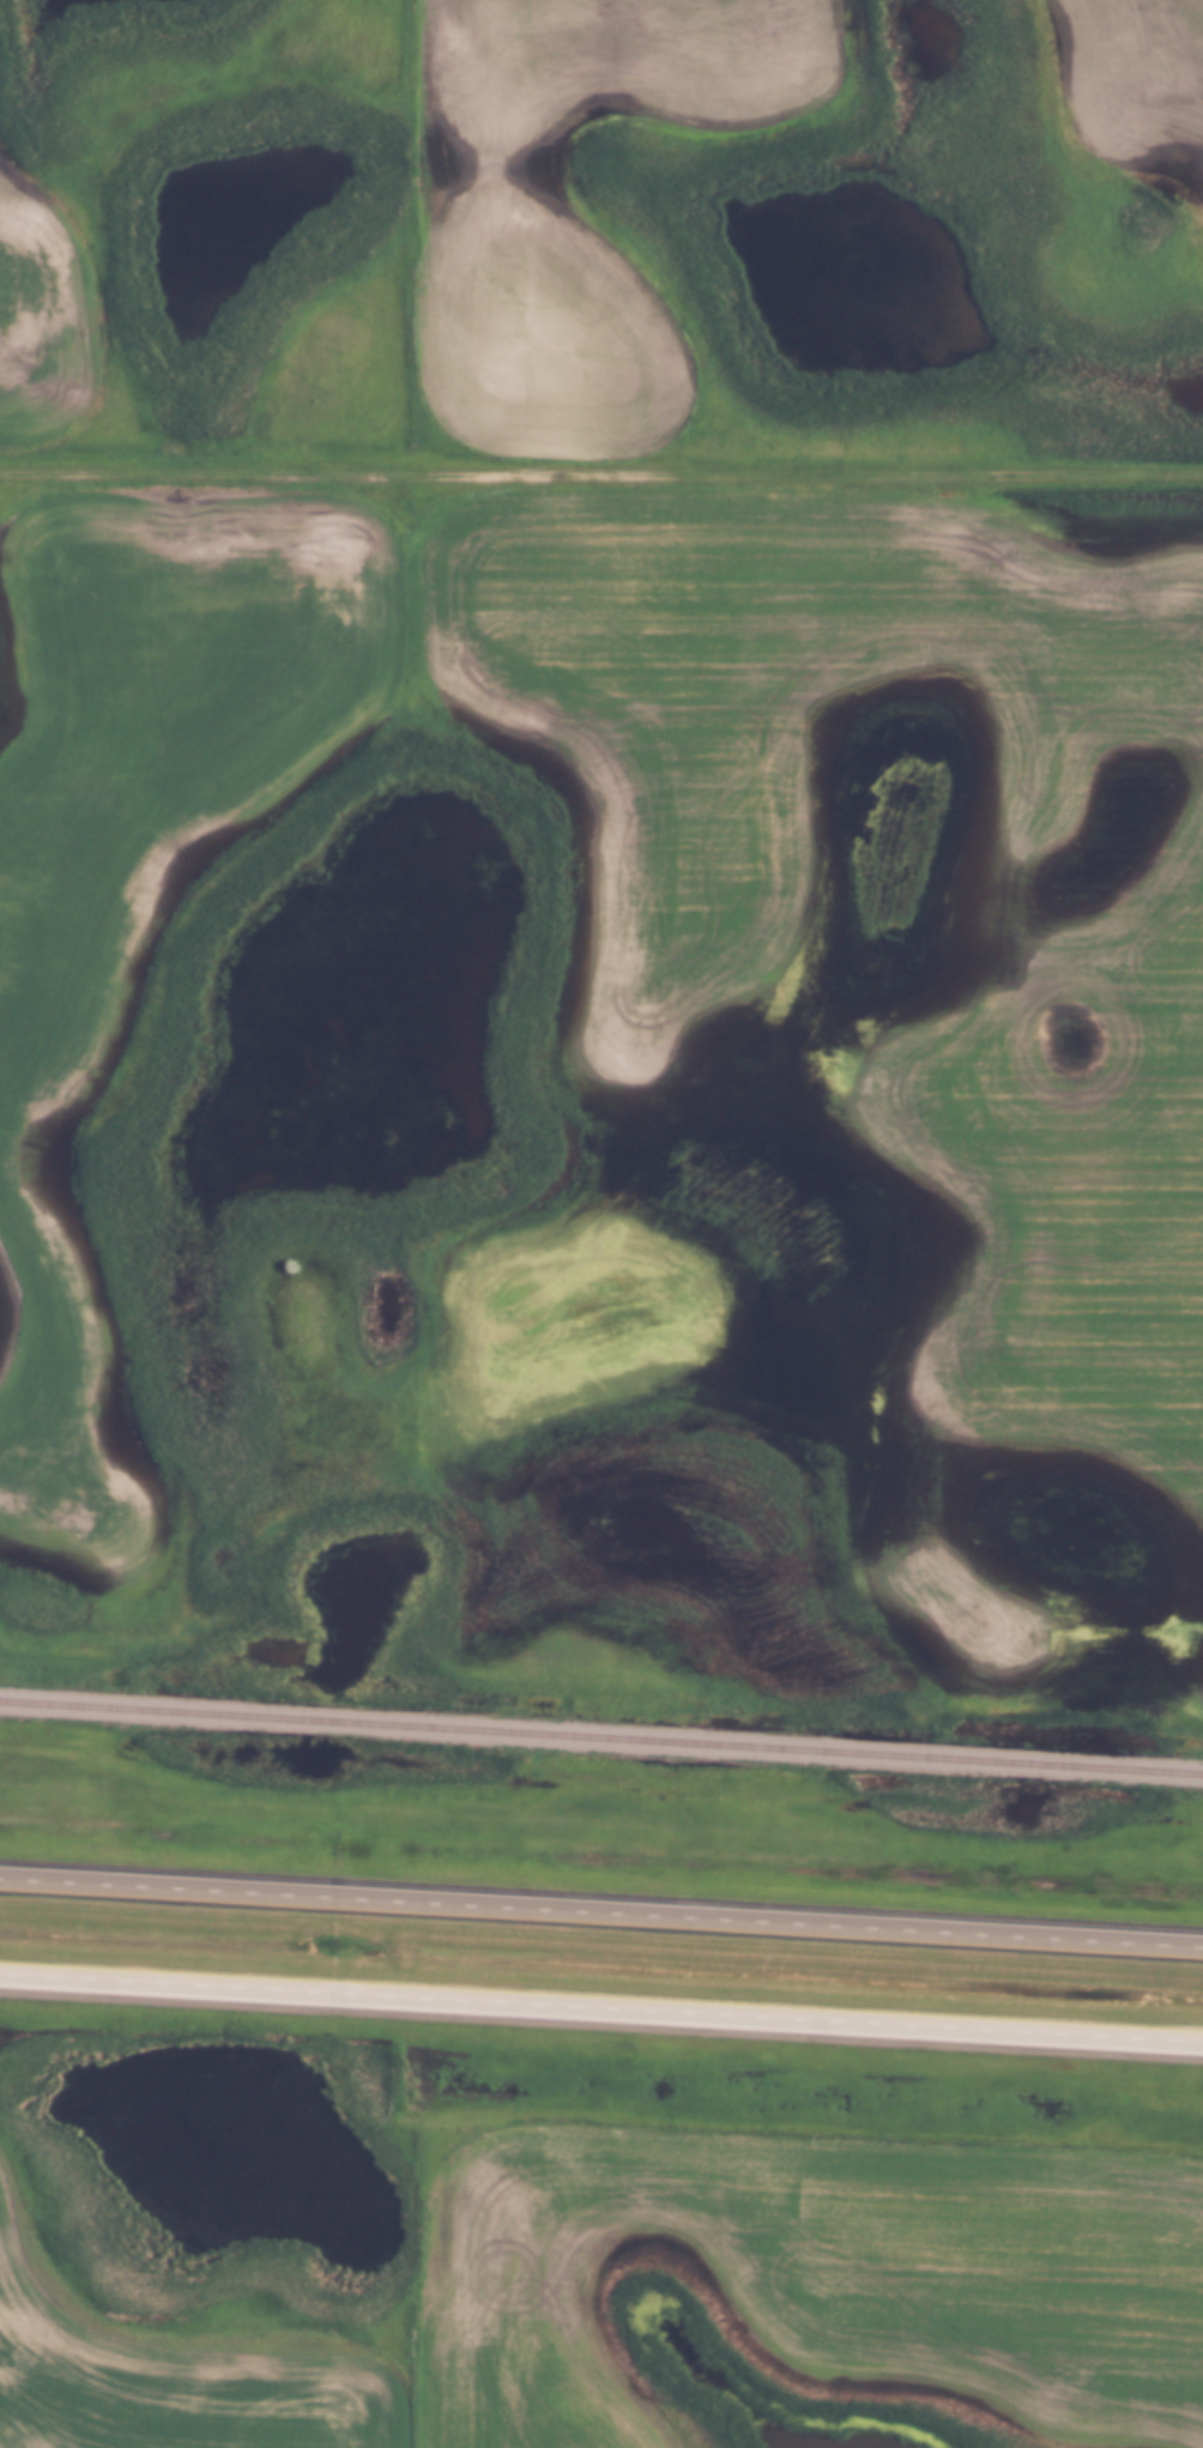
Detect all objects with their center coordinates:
road: (601, 472)
railway: (601, 1737)
road: (601, 1909)
road: (600, 2007)

